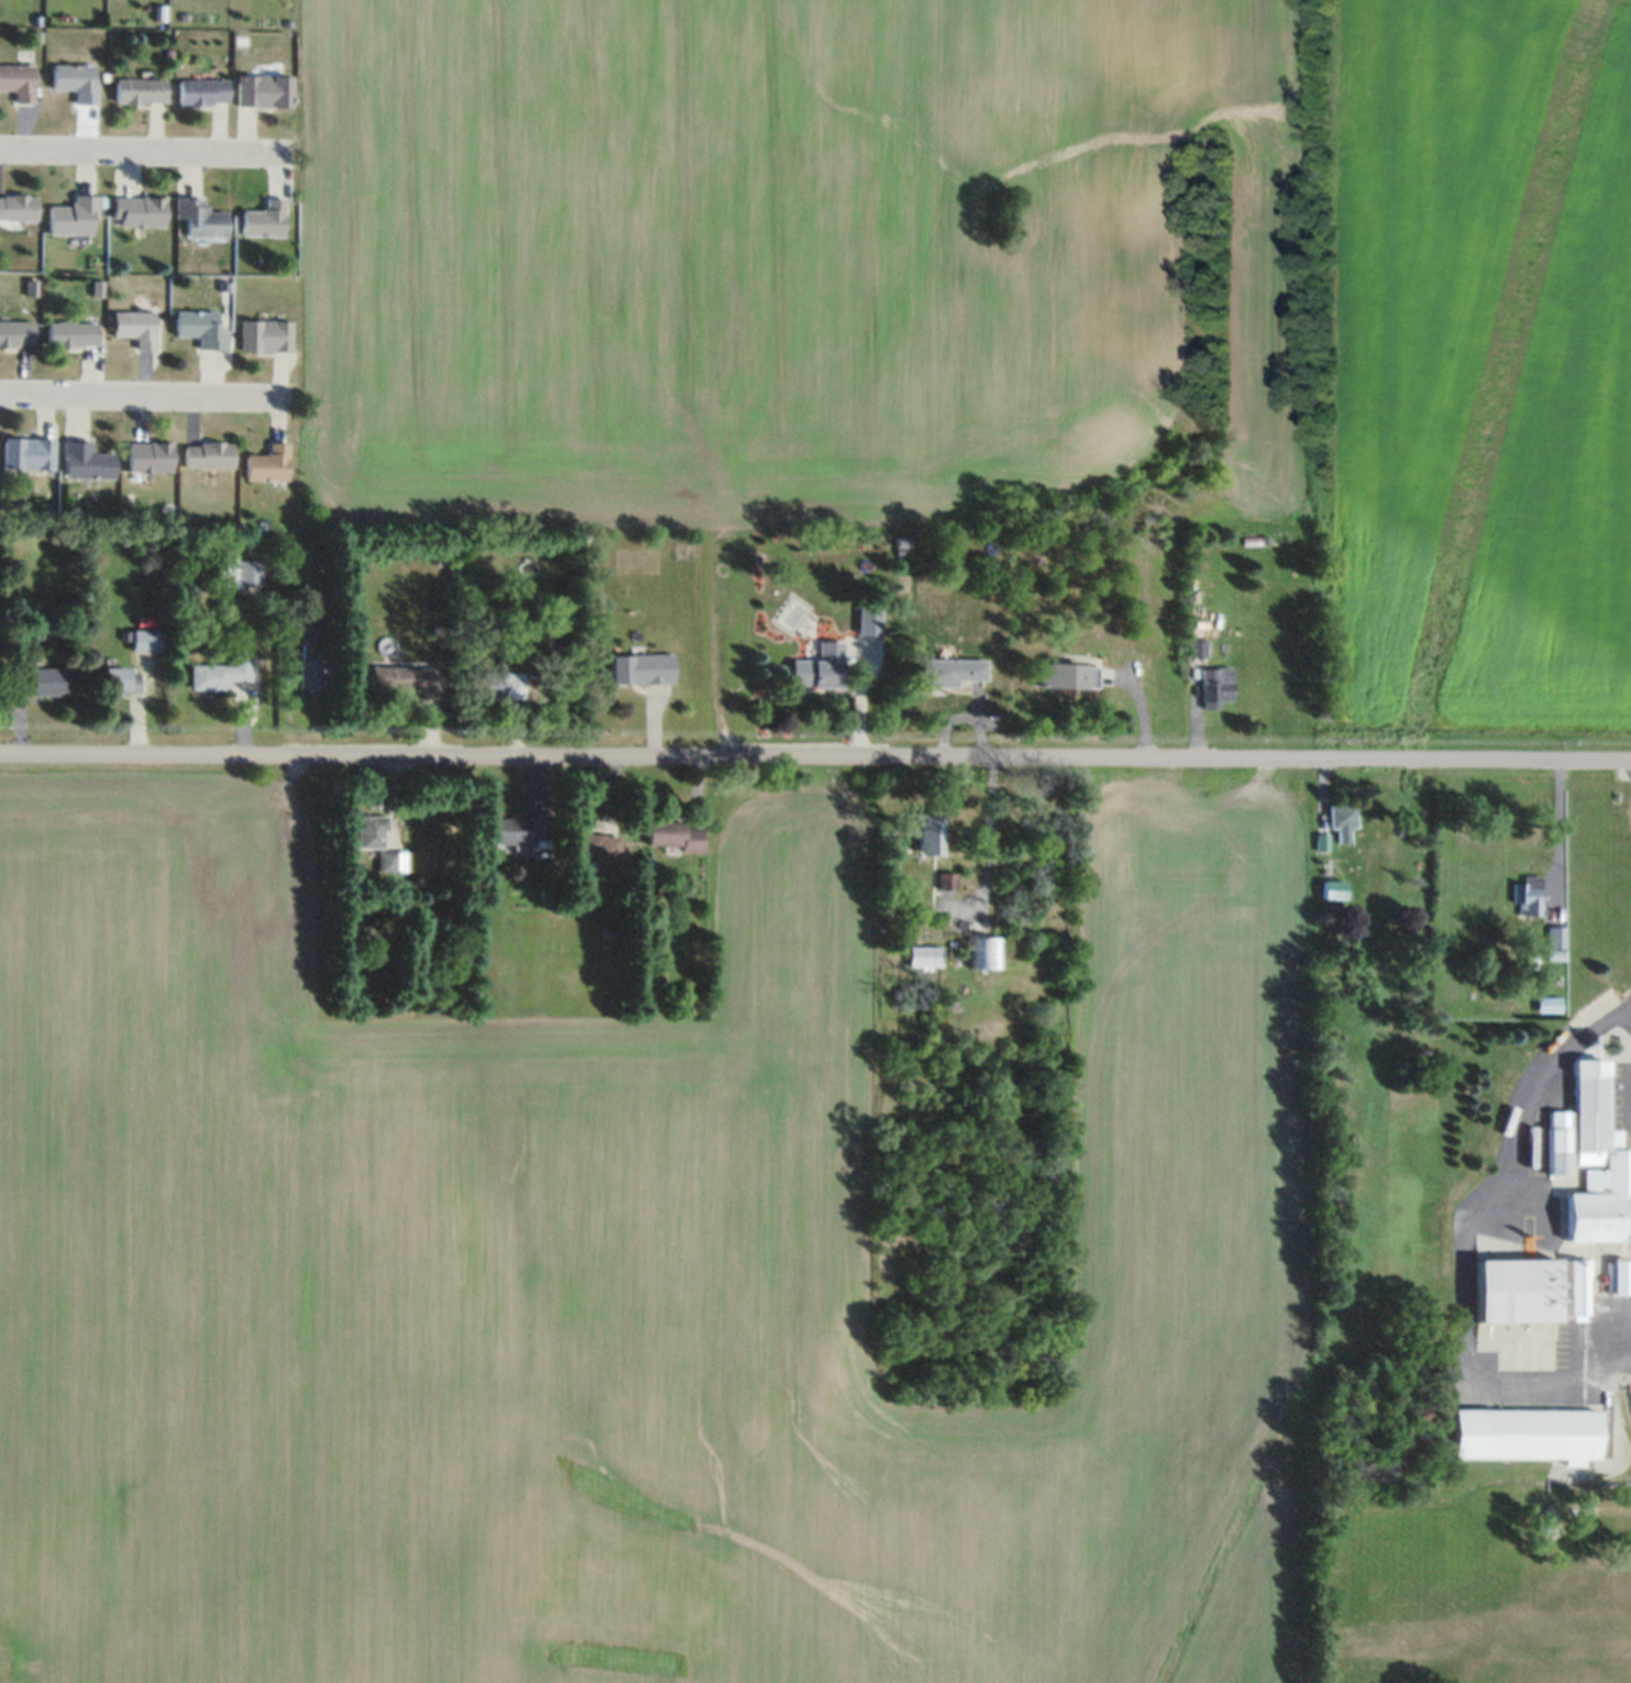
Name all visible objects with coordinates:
building: (18, 81)
building: (78, 81)
building: (264, 90)
building: (141, 91)
building: (203, 92)
road: (144, 148)
building: (19, 207)
building: (140, 211)
building: (75, 217)
building: (201, 218)
building: (265, 219)
crop: (1006, 298)
building: (135, 328)
building: (201, 329)
building: (16, 333)
building: (73, 333)
building: (265, 335)
road: (145, 395)
building: (27, 454)
building: (209, 454)
building: (150, 456)
building: (86, 461)
building: (268, 464)
building: (241, 573)
building: (870, 621)
building: (146, 641)
building: (1199, 647)
building: (641, 668)
building: (819, 668)
building: (949, 673)
building: (310, 675)
building: (218, 676)
building: (1065, 677)
building: (121, 679)
building: (407, 679)
building: (43, 680)
building: (496, 685)
building: (1215, 687)
road: (859, 699)
road: (815, 760)
building: (1342, 820)
building: (372, 832)
building: (518, 832)
building: (927, 834)
building: (672, 838)
road: (983, 848)
building: (591, 850)
building: (392, 862)
building: (944, 882)
building: (1333, 889)
building: (1529, 896)
building: (1555, 950)
building: (982, 953)
building: (922, 957)
building: (1549, 1005)
building: (1568, 1214)
crop: (631, 1273)
building: (1523, 1433)

